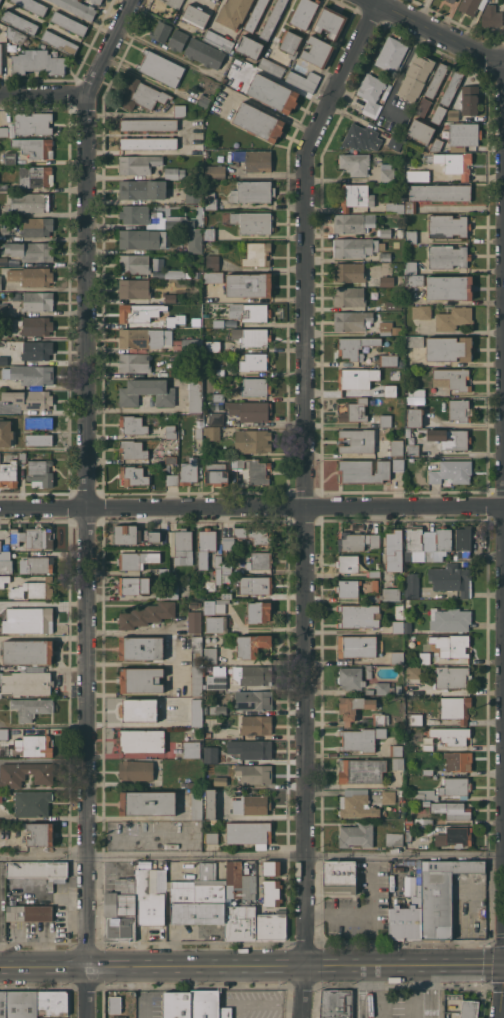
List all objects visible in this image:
building: (0, 0)
building: (216, 0)
building: (96, 1)
building: (452, 1)
building: (175, 3)
building: (32, 6)
building: (472, 6)
building: (78, 8)
building: (234, 12)
building: (304, 13)
building: (256, 15)
building: (196, 16)
building: (492, 16)
building: (273, 19)
building: (20, 22)
building: (330, 22)
building: (69, 23)
road: (283, 26)
road: (432, 29)
building: (161, 31)
building: (16, 35)
building: (178, 40)
building: (219, 40)
building: (60, 42)
building: (290, 43)
building: (249, 46)
building: (317, 51)
building: (204, 53)
building: (392, 54)
road: (176, 55)
building: (1, 58)
building: (38, 62)
building: (272, 67)
building: (161, 68)
building: (416, 77)
building: (304, 80)
building: (436, 80)
building: (451, 87)
building: (371, 91)
building: (273, 93)
building: (142, 95)
road: (43, 96)
building: (204, 101)
building: (467, 103)
building: (423, 106)
building: (180, 110)
building: (438, 114)
building: (258, 122)
building: (34, 123)
building: (148, 124)
building: (421, 130)
building: (4, 131)
building: (464, 134)
building: (361, 137)
building: (395, 142)
building: (149, 143)
building: (436, 145)
building: (35, 147)
building: (194, 147)
building: (206, 153)
building: (10, 158)
building: (258, 161)
building: (355, 163)
building: (455, 163)
building: (138, 164)
building: (215, 171)
building: (387, 172)
building: (174, 173)
building: (418, 175)
building: (35, 176)
building: (4, 187)
building: (142, 189)
building: (252, 192)
building: (194, 194)
building: (437, 194)
building: (354, 196)
building: (30, 202)
building: (211, 203)
building: (394, 207)
building: (199, 214)
building: (153, 217)
building: (253, 222)
building: (349, 223)
building: (37, 226)
building: (448, 226)
building: (384, 232)
building: (400, 233)
building: (209, 234)
building: (411, 237)
building: (143, 239)
building: (193, 239)
building: (354, 247)
building: (31, 250)
building: (257, 254)
building: (386, 256)
building: (448, 256)
building: (3, 261)
building: (212, 262)
building: (134, 263)
building: (411, 267)
building: (349, 272)
building: (175, 274)
building: (31, 276)
building: (213, 276)
building: (390, 280)
building: (415, 280)
building: (0, 283)
building: (249, 284)
building: (449, 287)
building: (134, 288)
building: (349, 296)
building: (170, 298)
building: (37, 301)
building: (385, 305)
building: (3, 307)
building: (249, 312)
building: (421, 312)
building: (138, 313)
building: (454, 318)
building: (352, 320)
building: (174, 321)
building: (218, 323)
building: (35, 325)
building: (386, 330)
building: (251, 336)
building: (144, 337)
building: (414, 341)
building: (189, 344)
building: (219, 346)
building: (355, 347)
building: (449, 348)
building: (37, 350)
building: (4, 360)
building: (388, 360)
building: (254, 361)
building: (134, 362)
building: (218, 372)
building: (32, 374)
building: (351, 377)
building: (452, 378)
building: (255, 387)
building: (147, 392)
building: (415, 392)
building: (195, 395)
building: (219, 397)
building: (30, 399)
building: (250, 410)
building: (460, 410)
building: (355, 411)
building: (414, 416)
building: (215, 418)
building: (386, 421)
building: (39, 422)
building: (134, 424)
building: (171, 431)
building: (5, 432)
building: (212, 432)
building: (198, 433)
building: (450, 438)
building: (39, 439)
building: (253, 441)
building: (357, 441)
building: (397, 448)
building: (133, 449)
building: (413, 449)
building: (17, 455)
building: (2, 456)
building: (22, 457)
building: (171, 459)
building: (398, 465)
building: (253, 469)
building: (364, 470)
building: (189, 471)
building: (452, 471)
building: (9, 473)
building: (40, 473)
building: (216, 473)
building: (133, 475)
building: (172, 479)
road: (87, 502)
road: (251, 504)
road: (301, 504)
building: (134, 535)
building: (248, 536)
building: (32, 537)
building: (443, 538)
building: (357, 541)
building: (464, 541)
building: (413, 542)
building: (0, 545)
building: (206, 545)
building: (183, 546)
building: (394, 550)
building: (429, 555)
building: (260, 560)
building: (134, 561)
building: (5, 562)
building: (347, 563)
building: (37, 564)
building: (161, 571)
building: (374, 573)
building: (217, 574)
building: (452, 579)
building: (4, 580)
building: (135, 585)
building: (256, 585)
building: (413, 585)
building: (173, 586)
building: (347, 588)
building: (33, 589)
building: (392, 593)
building: (163, 595)
building: (374, 597)
building: (194, 604)
building: (217, 604)
building: (258, 612)
building: (147, 614)
building: (359, 616)
building: (28, 619)
building: (450, 619)
building: (194, 621)
building: (216, 624)
building: (398, 626)
building: (407, 626)
building: (411, 637)
building: (423, 638)
building: (252, 645)
building: (356, 646)
building: (457, 647)
building: (140, 648)
building: (196, 650)
building: (27, 651)
building: (210, 655)
building: (397, 657)
building: (425, 657)
building: (368, 667)
building: (413, 671)
building: (369, 674)
building: (253, 675)
building: (351, 677)
building: (451, 677)
building: (141, 680)
building: (197, 681)
building: (216, 682)
building: (27, 683)
building: (384, 688)
building: (399, 689)
building: (369, 691)
building: (1, 694)
building: (253, 700)
building: (409, 705)
building: (31, 707)
building: (353, 707)
building: (456, 708)
building: (206, 709)
building: (218, 709)
building: (139, 710)
building: (196, 712)
building: (377, 719)
building: (416, 719)
building: (256, 724)
building: (4, 733)
building: (457, 736)
building: (361, 739)
building: (141, 741)
building: (34, 745)
building: (428, 747)
building: (251, 748)
building: (191, 749)
building: (396, 750)
building: (211, 754)
building: (458, 761)
building: (398, 763)
building: (136, 770)
building: (361, 770)
building: (428, 771)
building: (254, 774)
building: (12, 776)
building: (220, 780)
building: (190, 784)
building: (446, 789)
building: (400, 791)
building: (388, 796)
building: (400, 798)
building: (32, 803)
building: (148, 803)
building: (196, 804)
building: (357, 804)
building: (210, 805)
building: (253, 805)
building: (448, 809)
building: (400, 815)
building: (423, 821)
building: (249, 833)
building: (40, 834)
building: (357, 834)
building: (212, 836)
building: (409, 836)
building: (455, 836)
building: (394, 838)
road: (252, 855)
building: (271, 867)
building: (37, 869)
building: (340, 877)
building: (271, 893)
building: (199, 898)
building: (148, 901)
building: (234, 902)
building: (430, 902)
building: (240, 903)
building: (120, 910)
building: (30, 912)
road: (355, 917)
building: (271, 926)
road: (466, 964)
road: (400, 965)
road: (186, 967)
road: (427, 991)
road: (372, 992)
building: (52, 1003)
building: (3, 1004)
building: (22, 1004)
building: (114, 1004)
building: (336, 1004)
building: (178, 1005)
building: (208, 1005)
road: (502, 1007)
building: (469, 1008)
building: (50, 1017)
building: (117, 1017)

